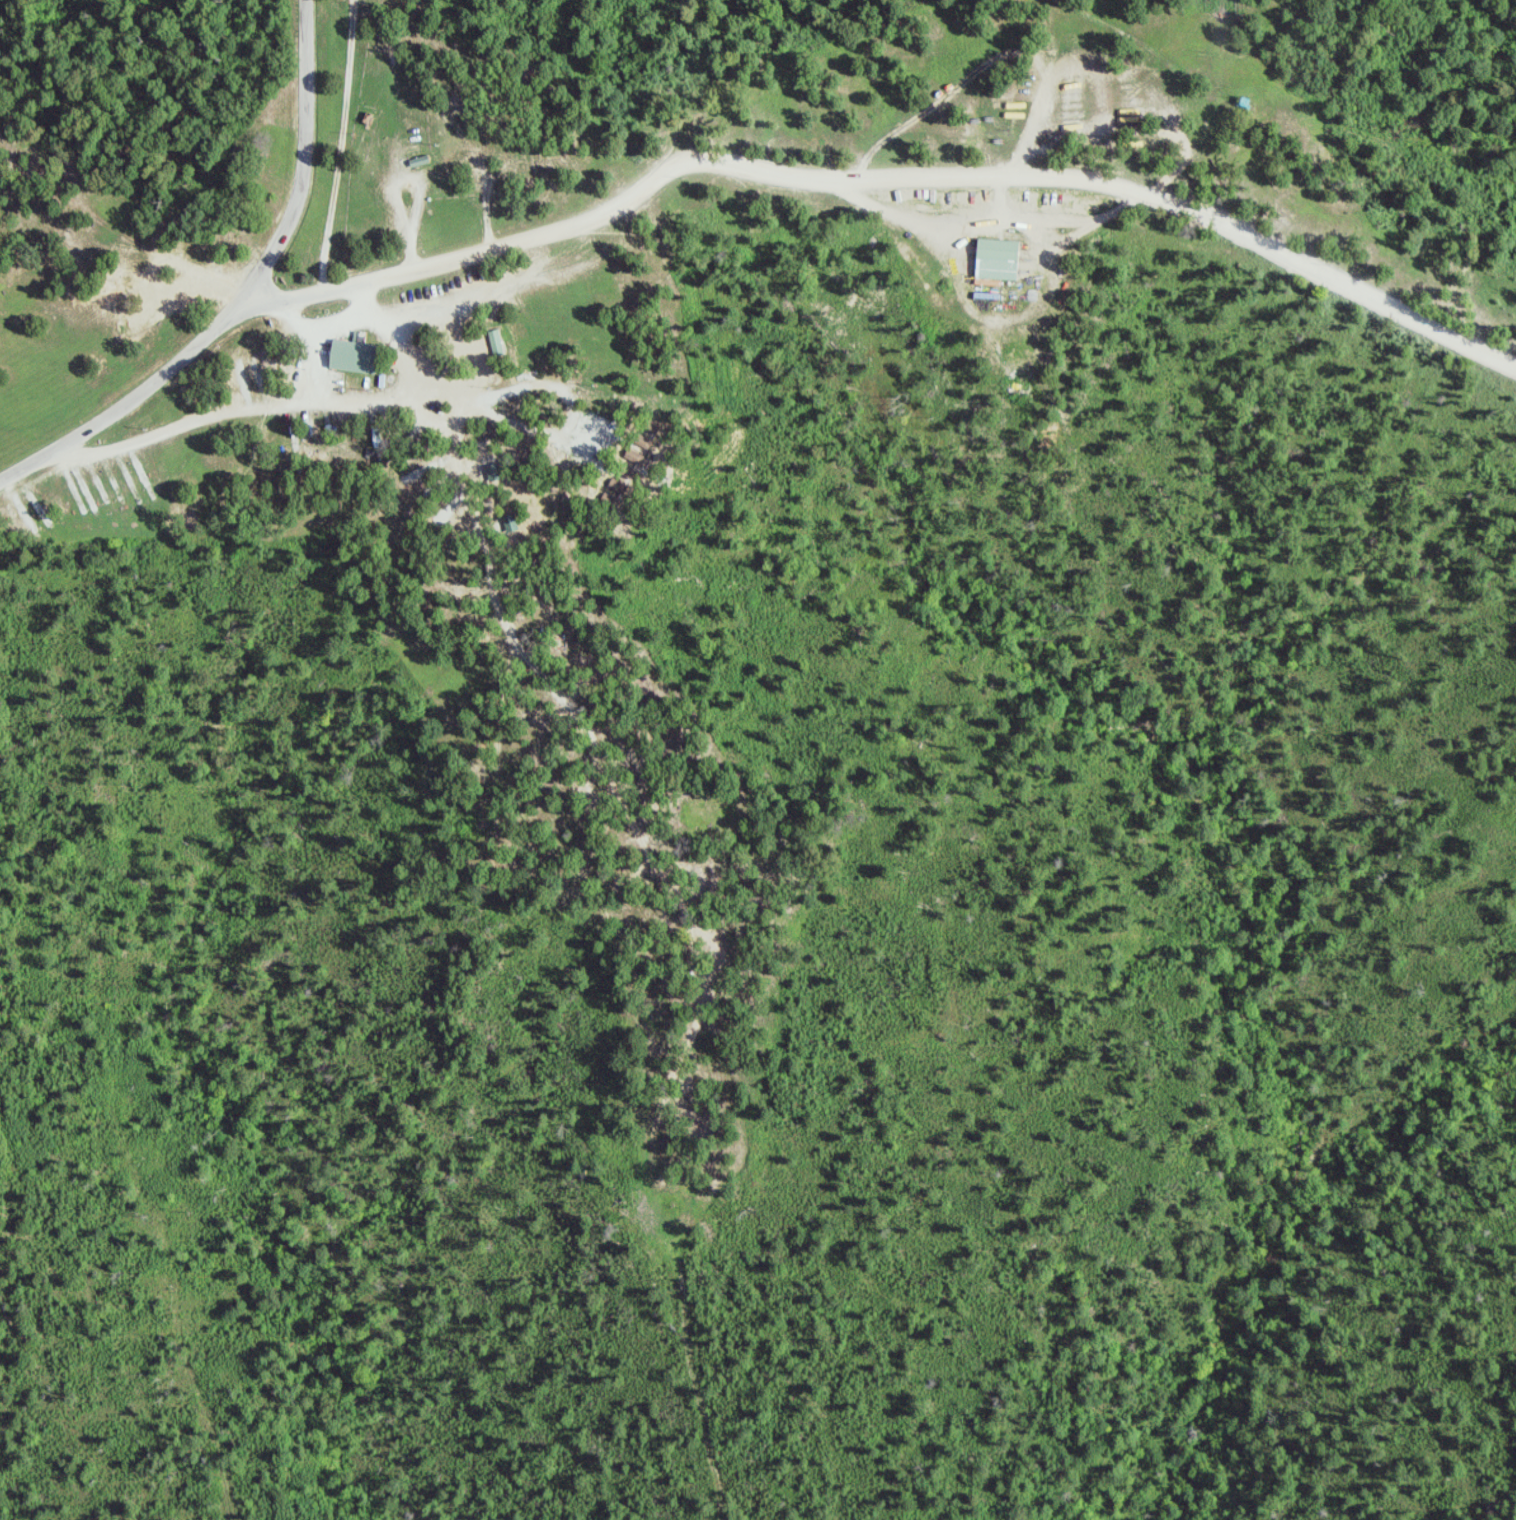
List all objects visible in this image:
road: (969, 175)
road: (420, 196)
building: (998, 260)
road: (327, 291)
road: (248, 298)
road: (332, 329)
building: (497, 342)
parking lot: (325, 353)
building: (362, 355)
road: (321, 369)
road: (321, 402)
building: (494, 473)
building: (92, 500)
building: (512, 524)

